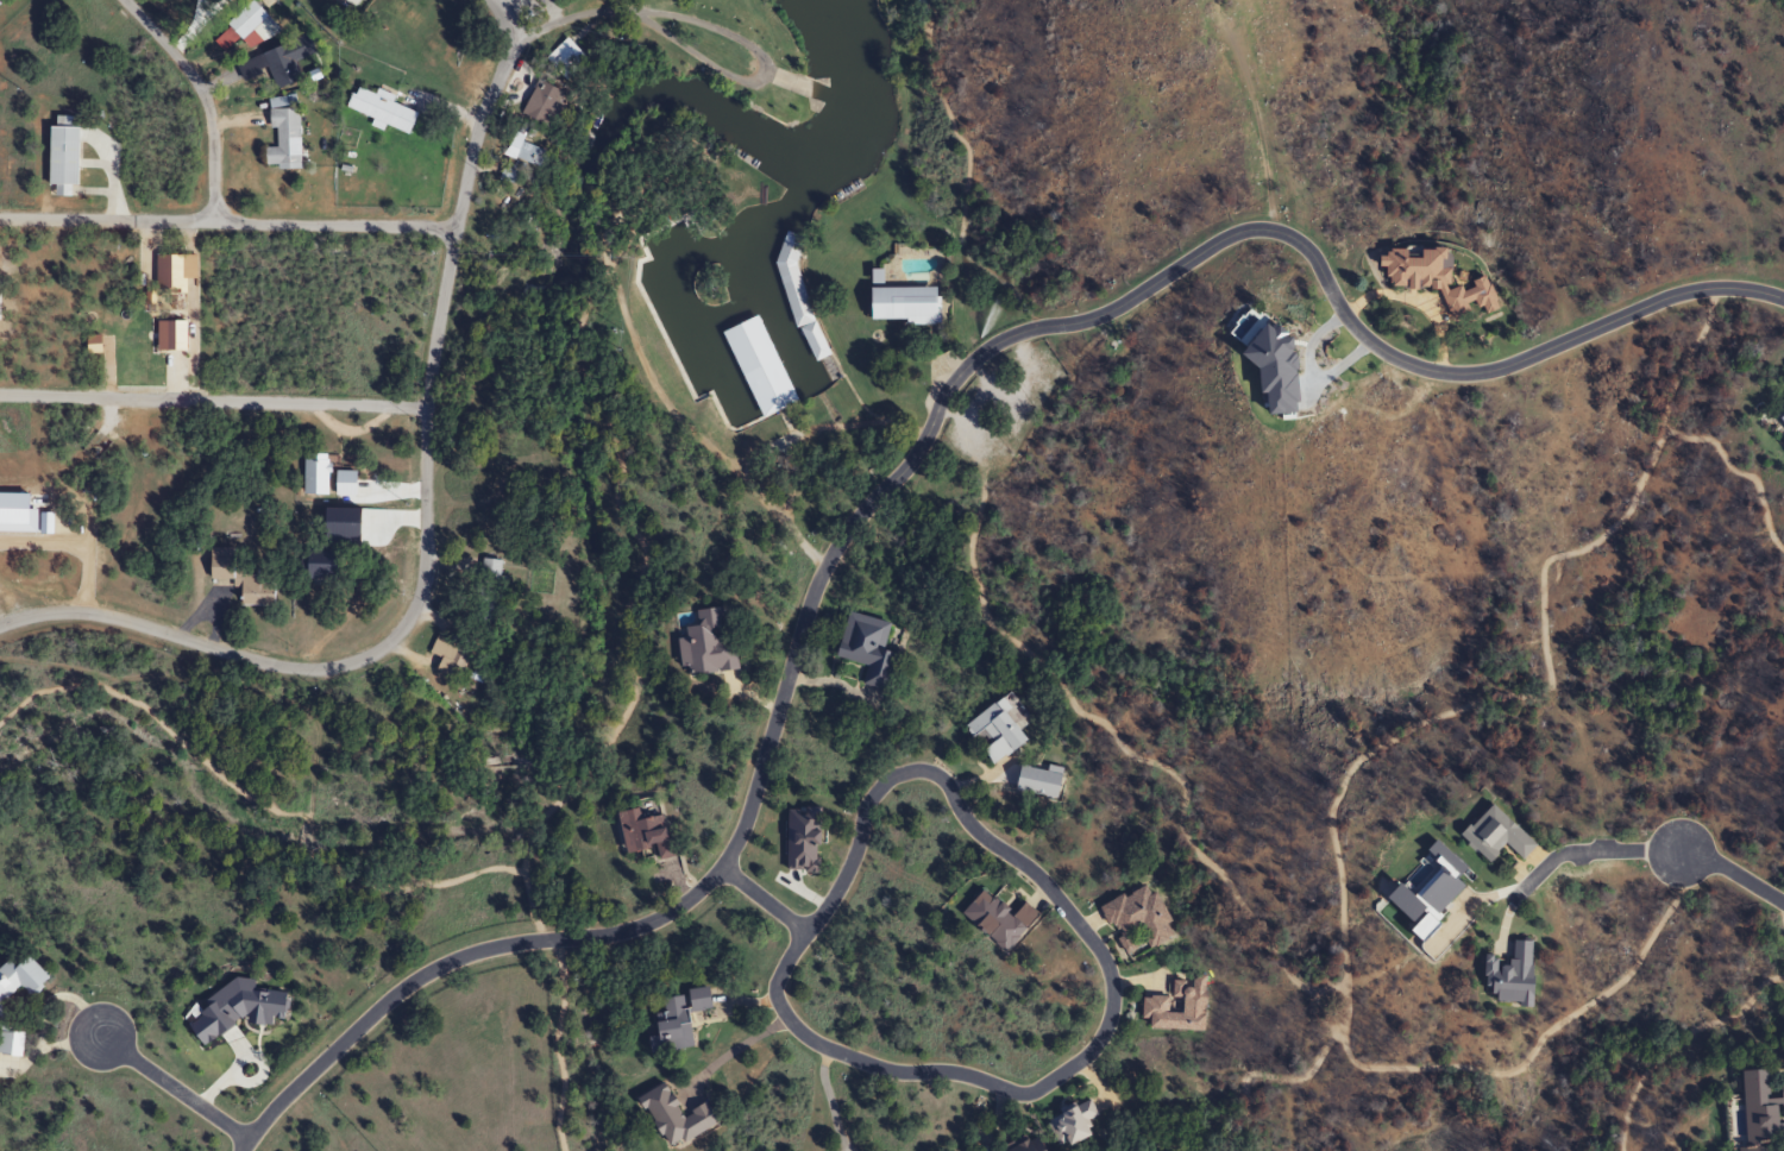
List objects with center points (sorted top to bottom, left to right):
building: (345, 2)
road: (673, 15)
building: (234, 25)
building: (272, 64)
road: (203, 96)
building: (535, 103)
building: (377, 109)
building: (278, 133)
building: (521, 152)
building: (57, 161)
road: (107, 220)
road: (334, 224)
building: (170, 271)
building: (1437, 277)
building: (802, 303)
building: (897, 304)
building: (167, 335)
building: (1782, 385)
building: (771, 386)
road: (214, 400)
building: (1780, 419)
building: (1783, 444)
road: (913, 458)
road: (426, 505)
building: (238, 583)
building: (486, 591)
road: (15, 619)
building: (701, 644)
building: (862, 648)
building: (993, 730)
building: (643, 832)
building: (1493, 835)
road: (1642, 850)
road: (766, 901)
building: (1142, 916)
building: (18, 977)
road: (1112, 981)
building: (1174, 1007)
building: (672, 1021)
building: (8, 1040)
road: (730, 1048)
road: (176, 1092)
building: (1755, 1109)
building: (672, 1118)
building: (1069, 1125)
building: (1012, 1146)

